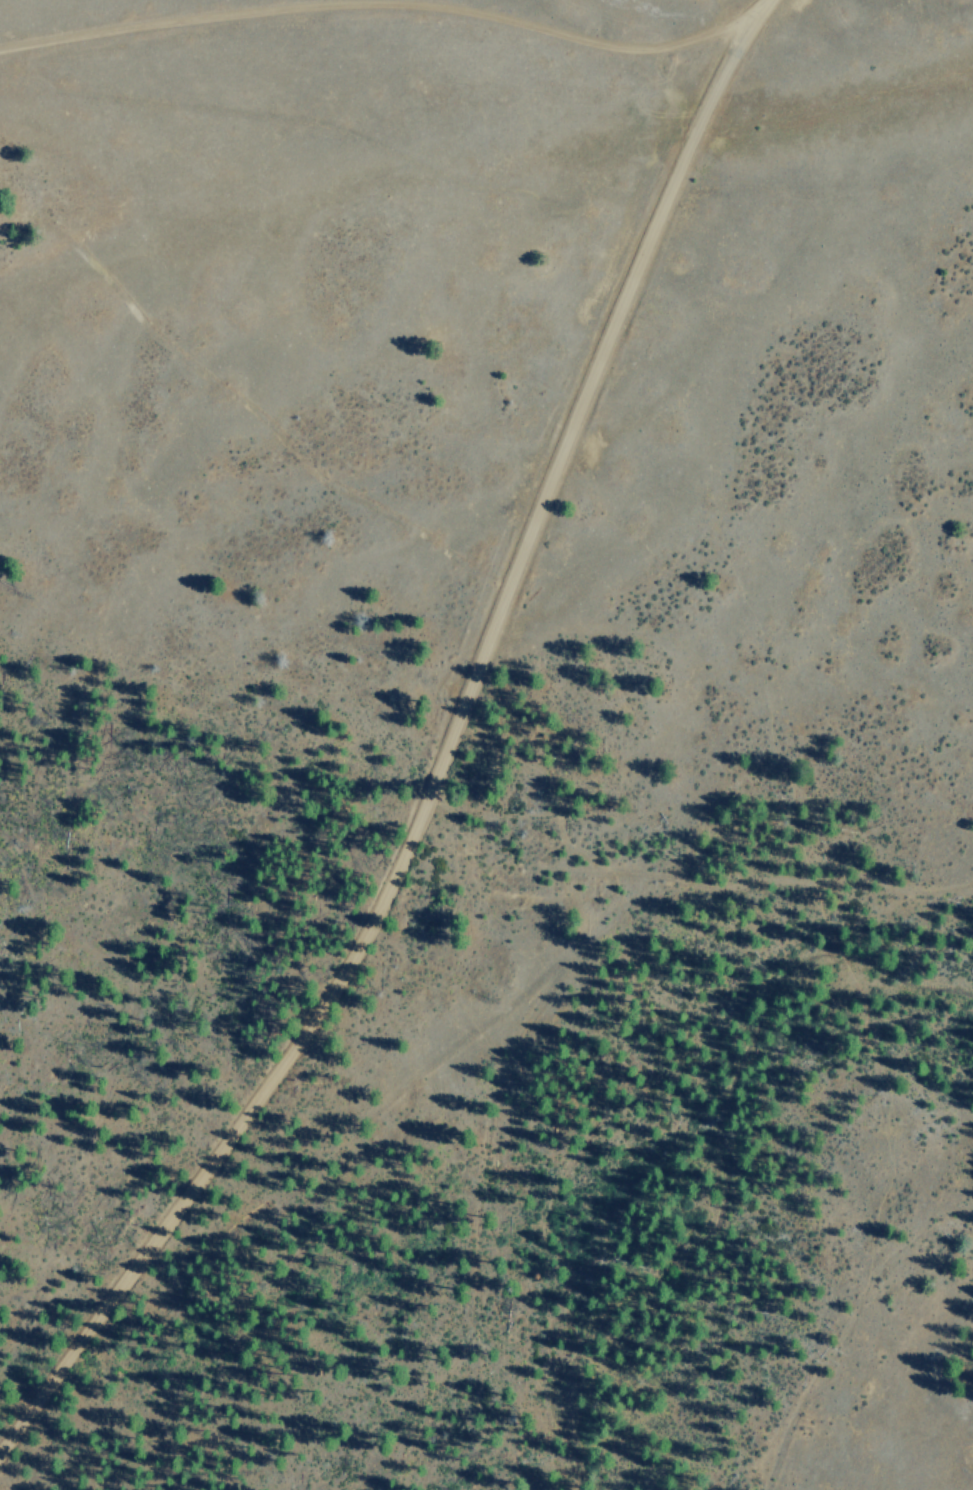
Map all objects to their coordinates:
road: (347, 42)
road: (649, 174)
road: (349, 906)

